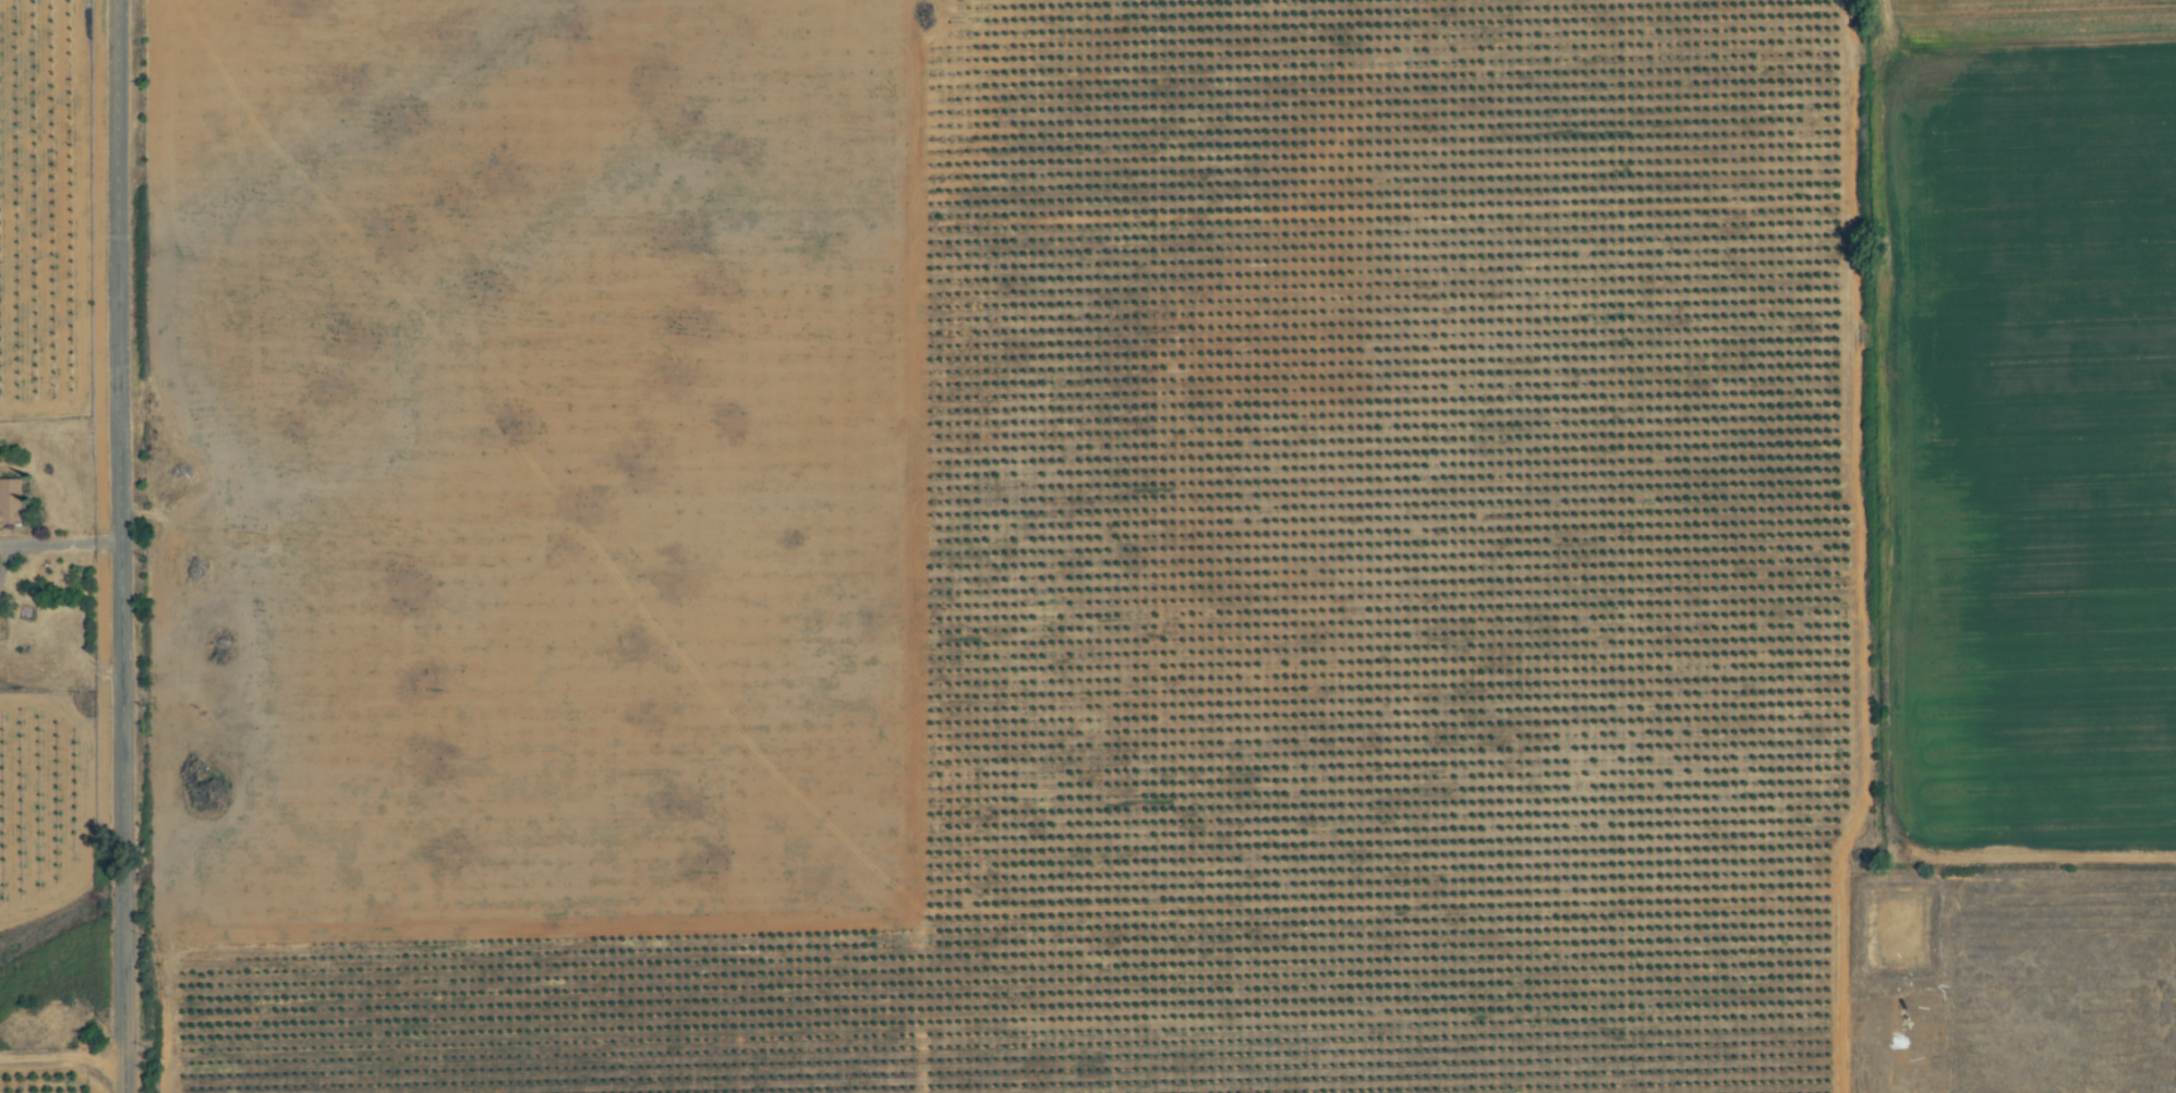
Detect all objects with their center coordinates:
building: (11, 501)
road: (60, 541)
road: (123, 546)

